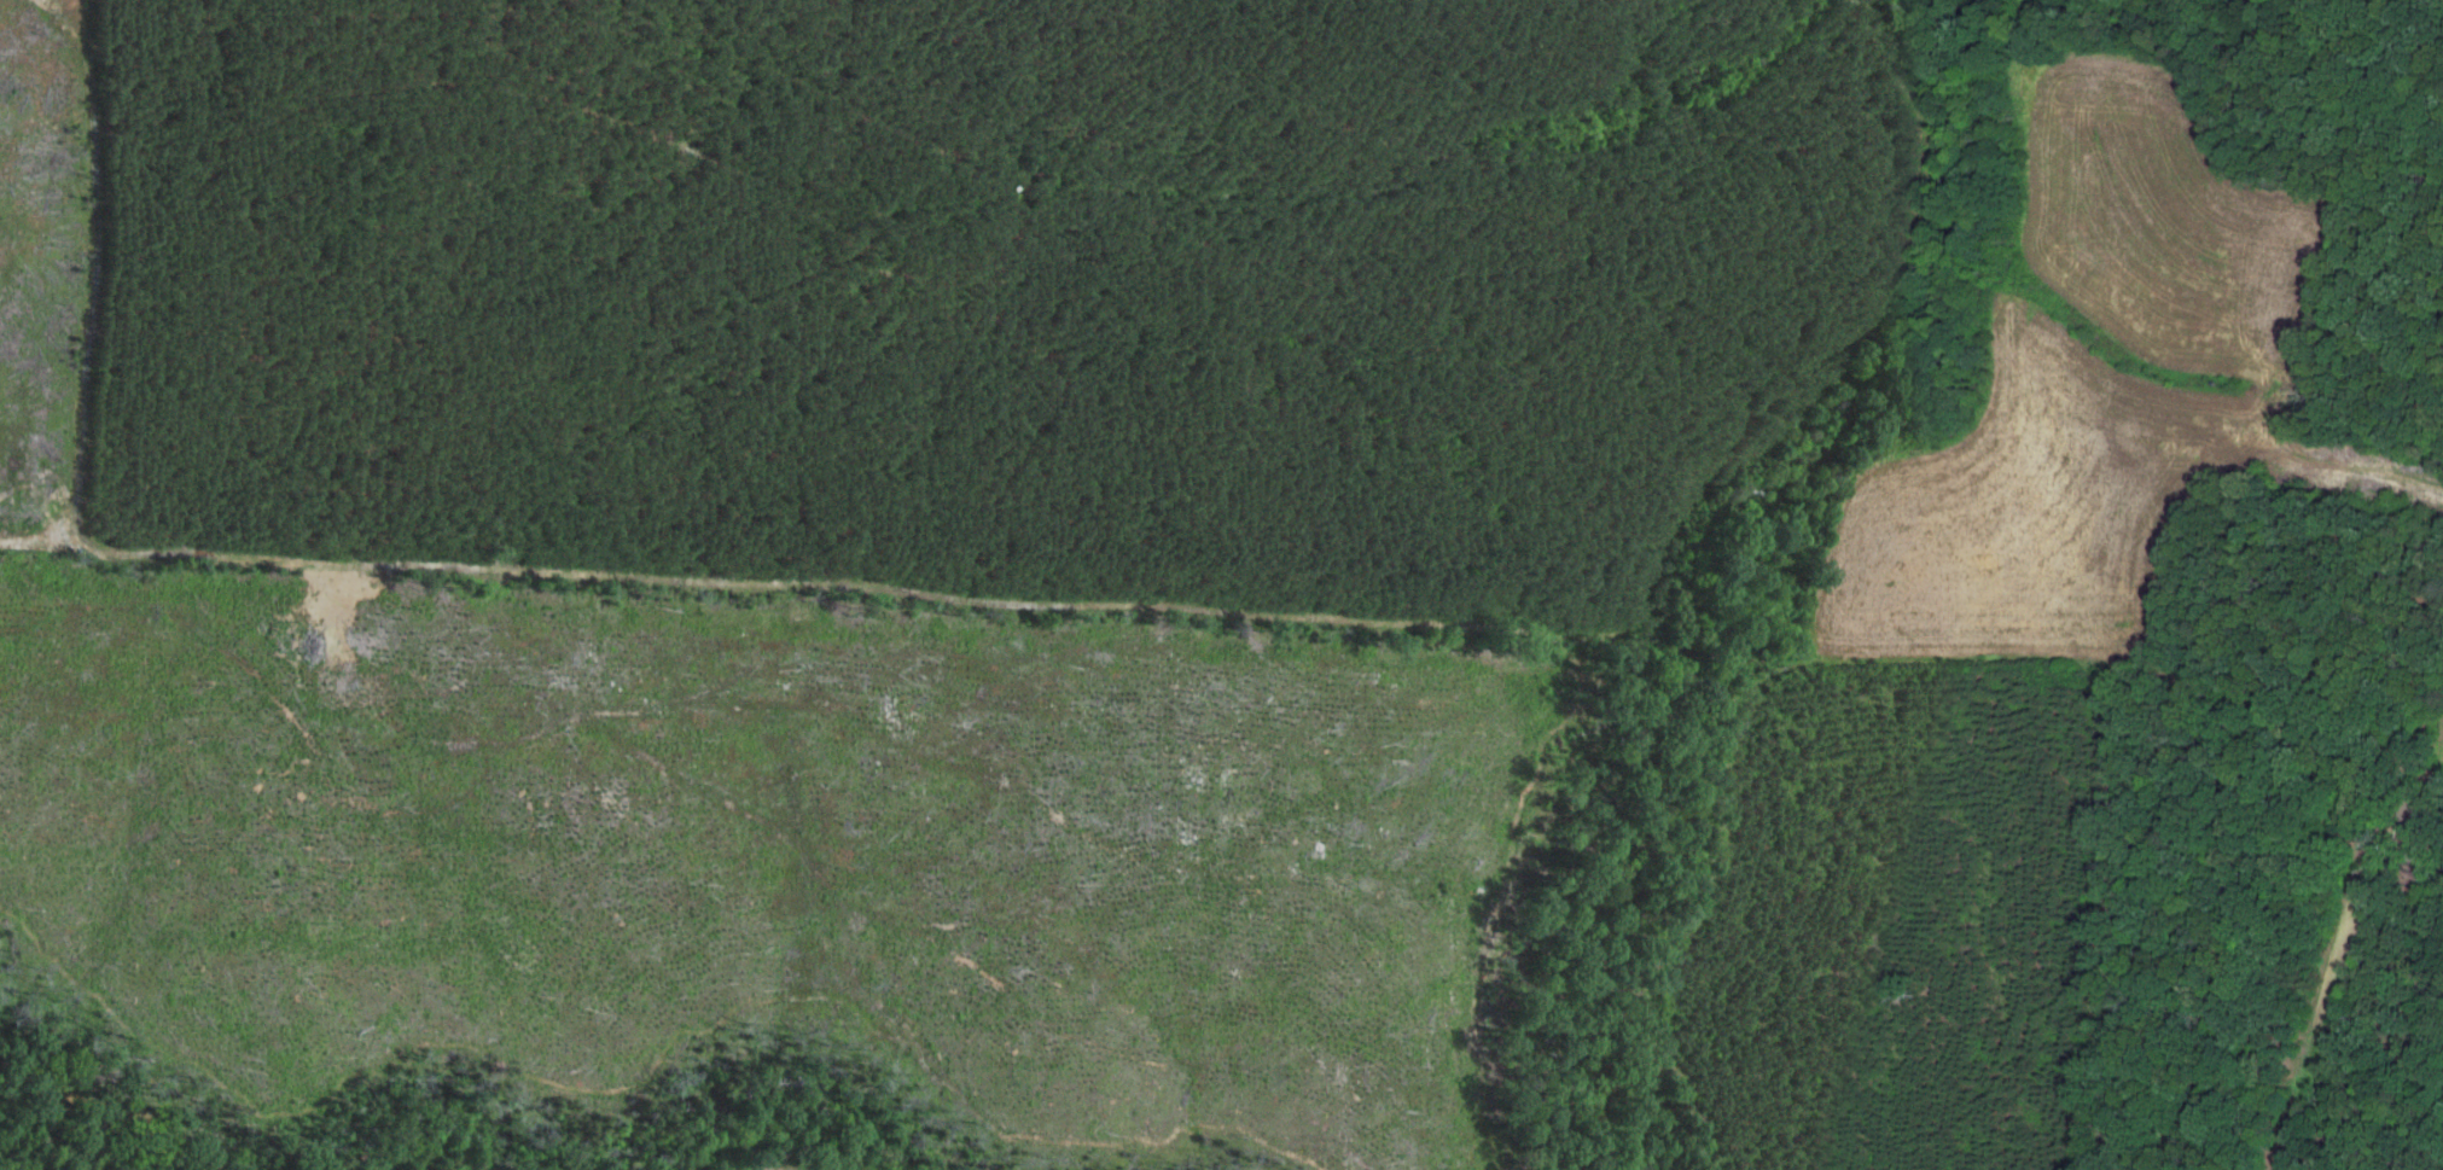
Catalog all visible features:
road: (2425, 861)

